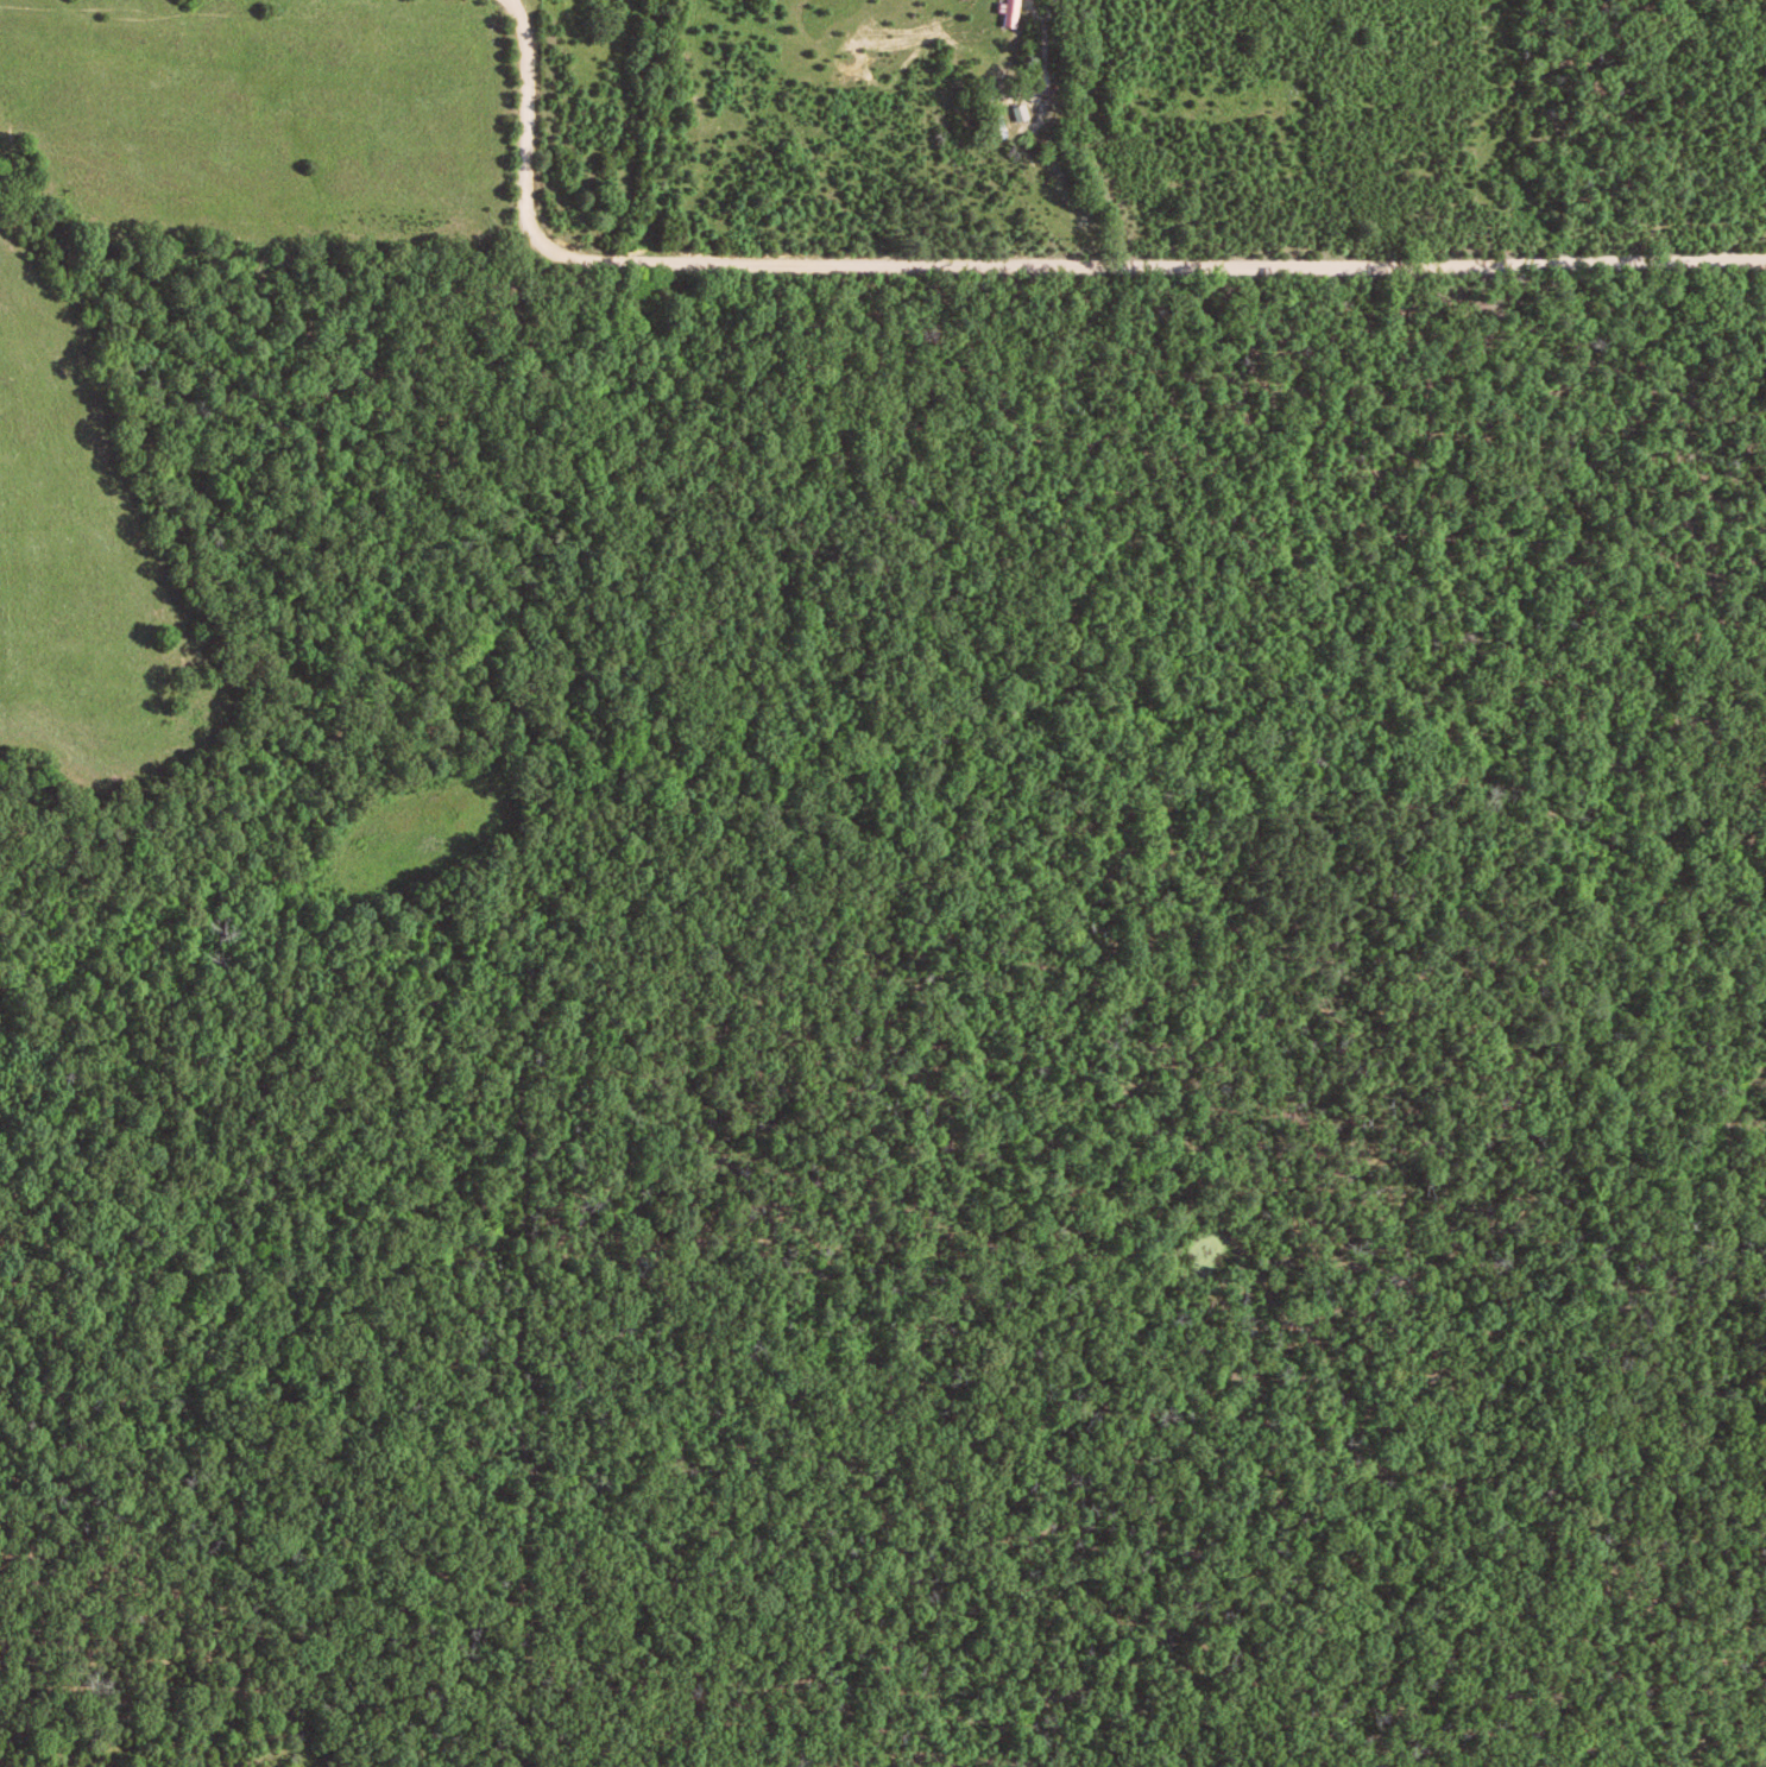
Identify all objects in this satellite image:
building: (1016, 13)
road: (1020, 265)
road: (521, 1008)

